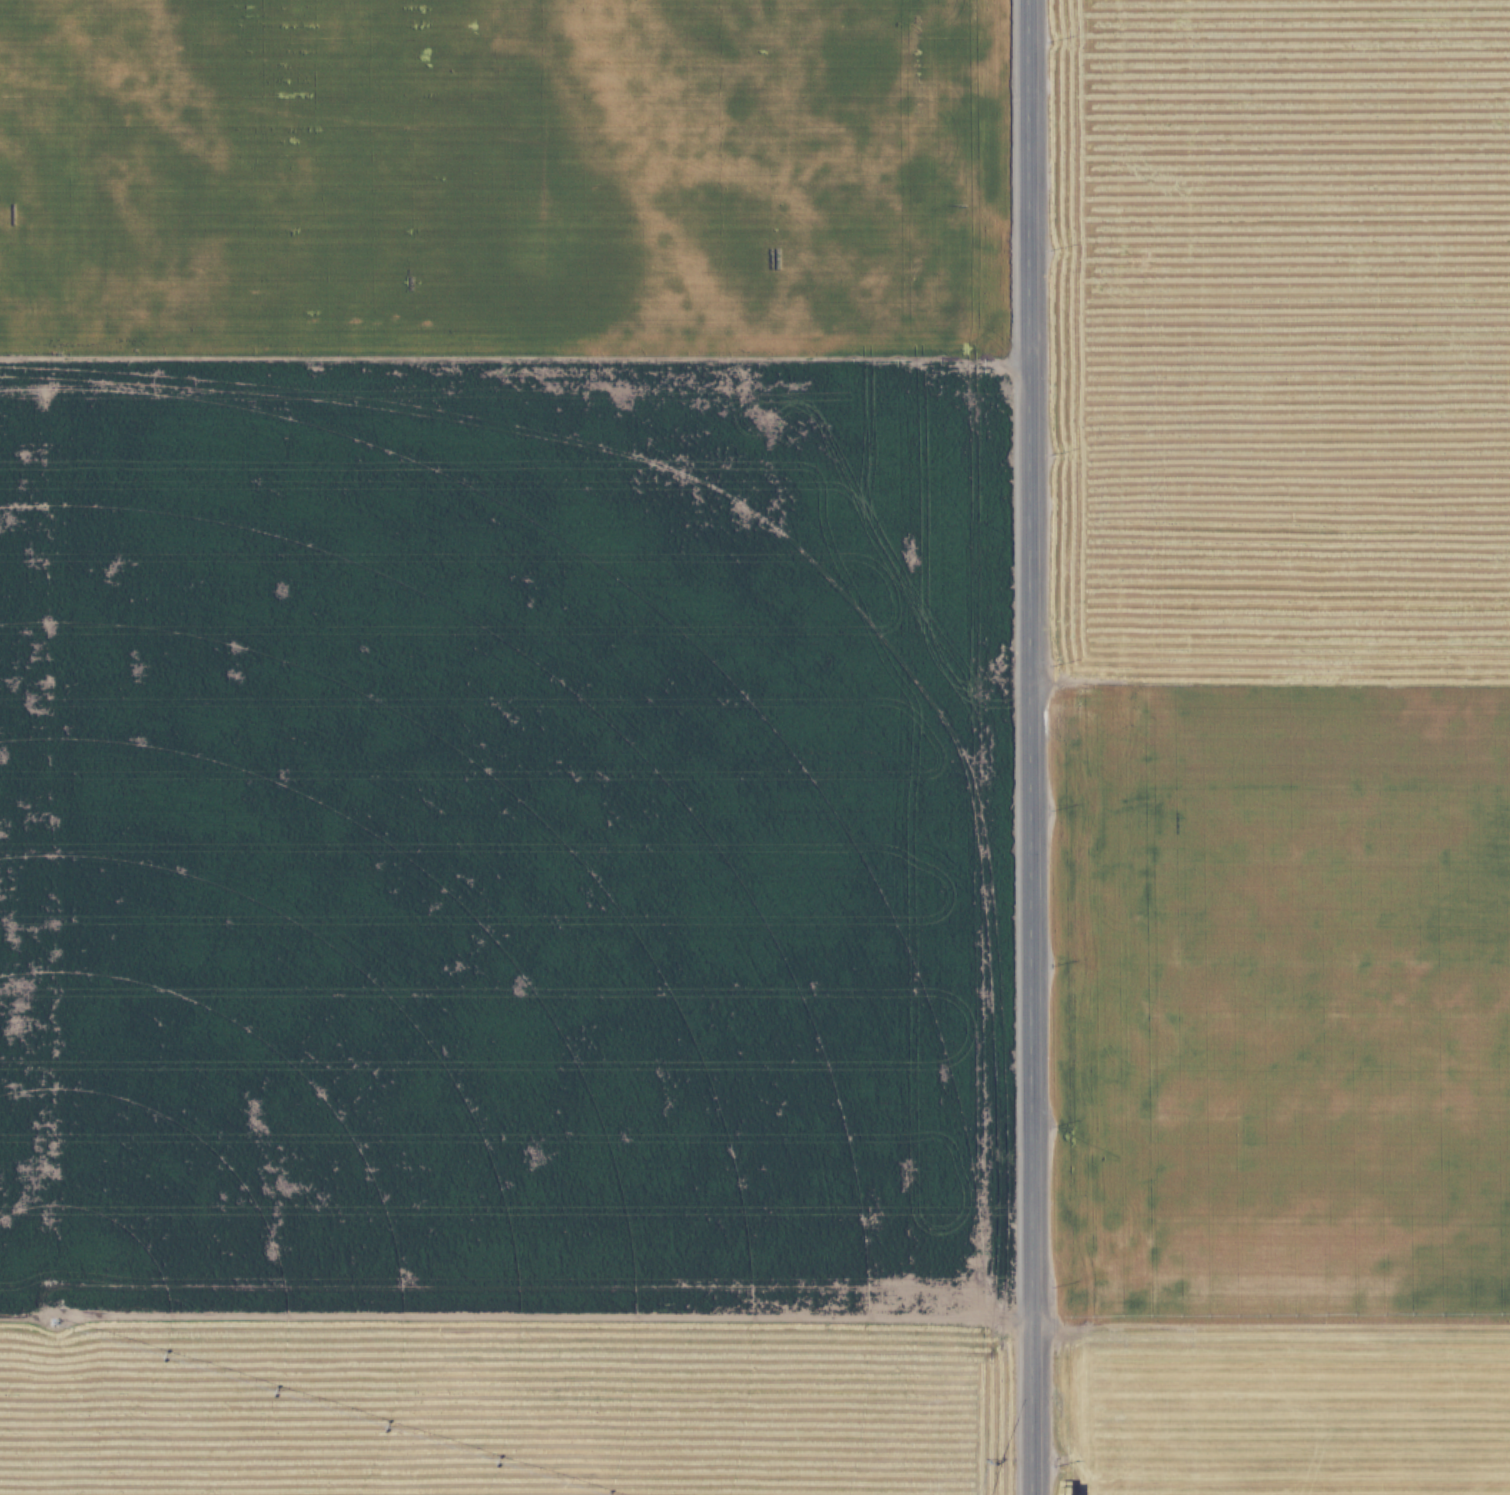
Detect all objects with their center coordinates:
road: (1027, 747)

